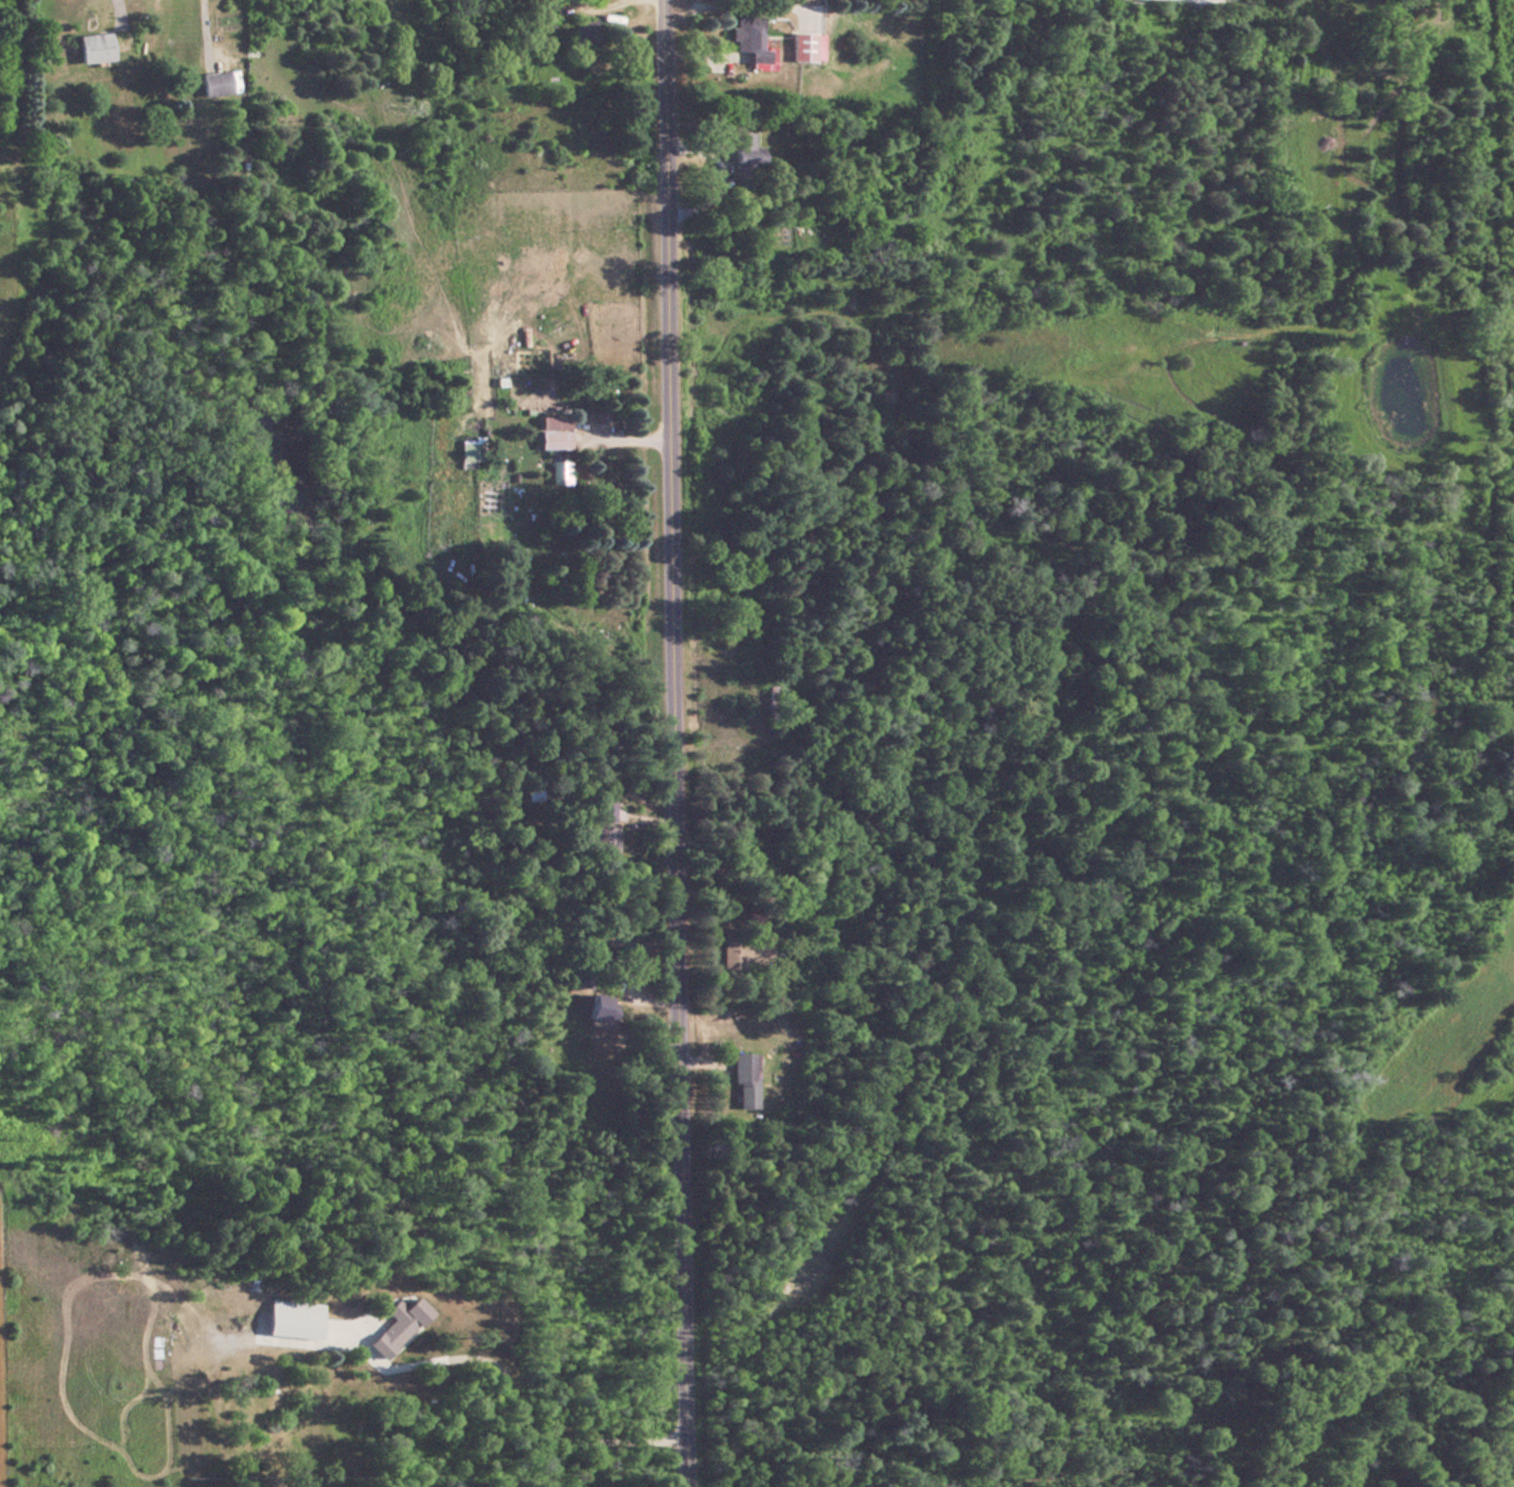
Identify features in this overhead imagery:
building: (581, 31)
building: (548, 35)
building: (746, 39)
building: (800, 46)
building: (92, 47)
building: (217, 82)
building: (743, 150)
building: (552, 440)
building: (468, 450)
building: (558, 472)
road: (675, 743)
building: (603, 825)
building: (761, 939)
building: (580, 977)
building: (598, 1008)
building: (742, 1081)
building: (401, 1322)
building: (291, 1326)

